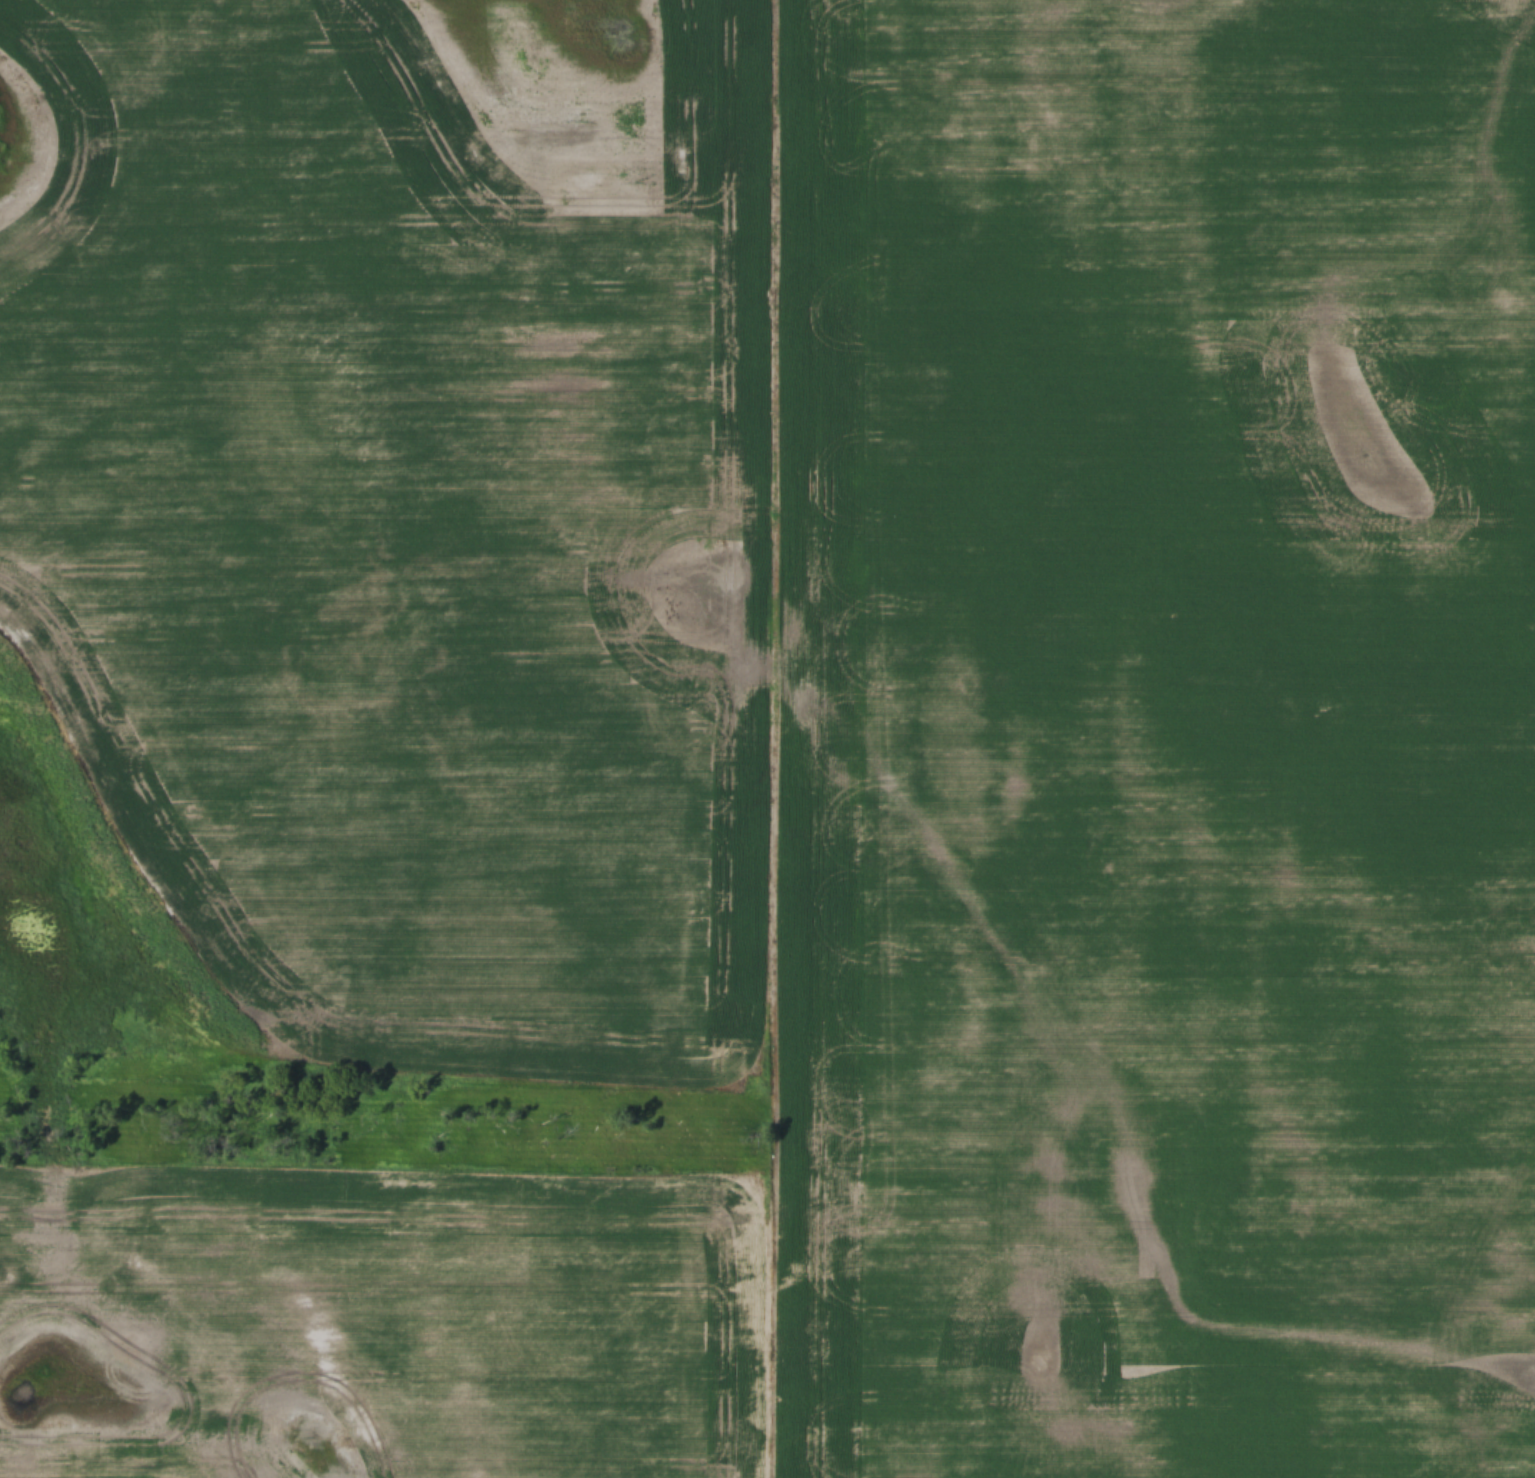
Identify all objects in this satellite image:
building: (1033, 1219)

